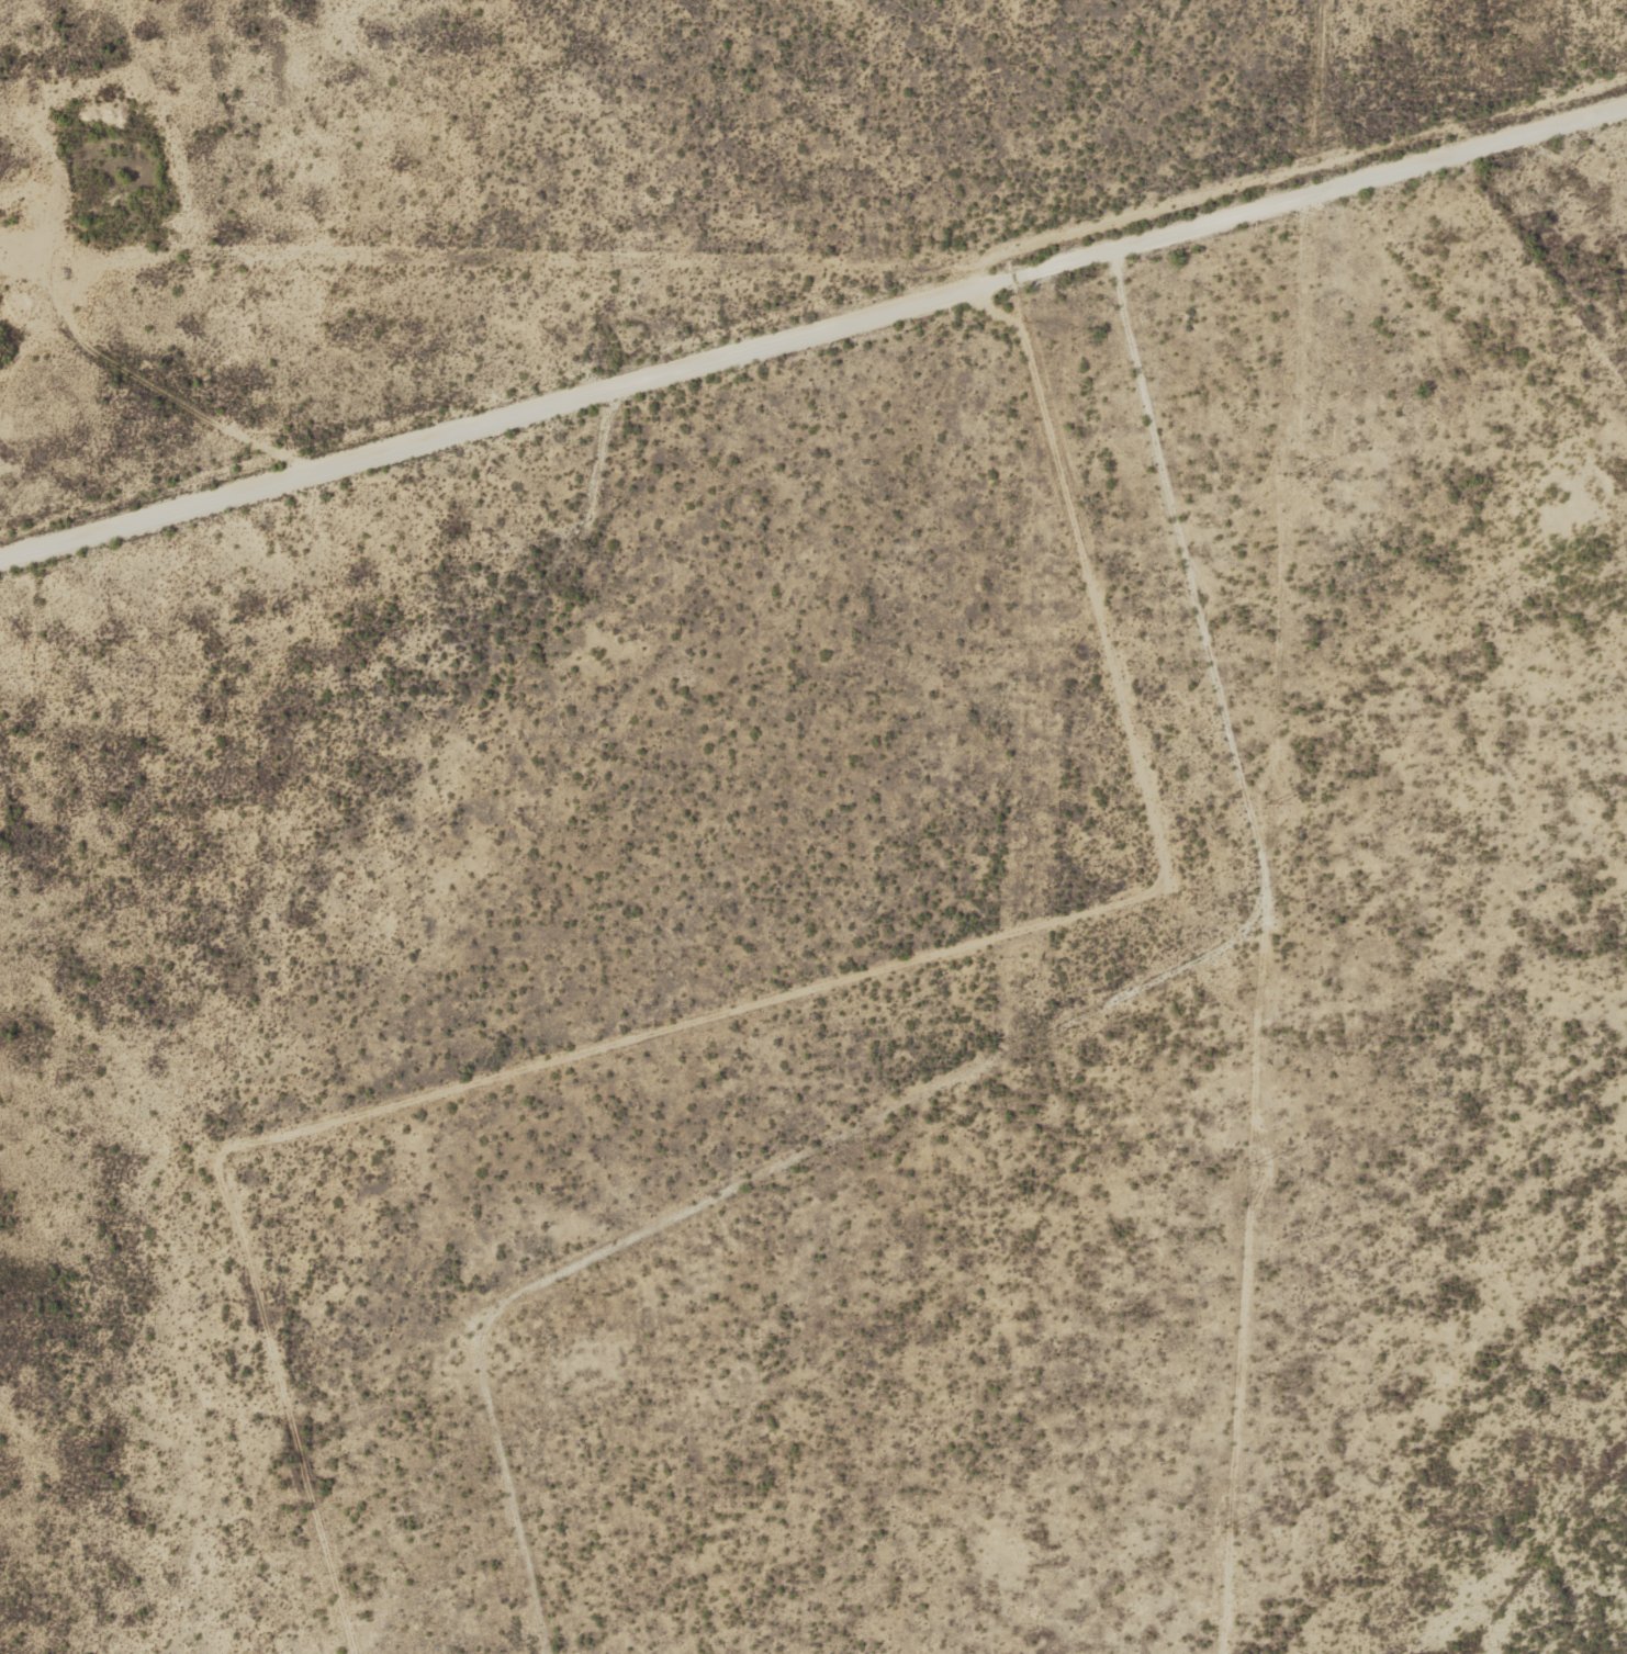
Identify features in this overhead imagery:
power tower: (1312, 148)
road: (1489, 331)
road: (813, 340)
power tower: (1292, 476)
power tower: (1272, 805)
road: (1023, 1042)
power tower: (1250, 1168)
power tower: (1228, 1528)

